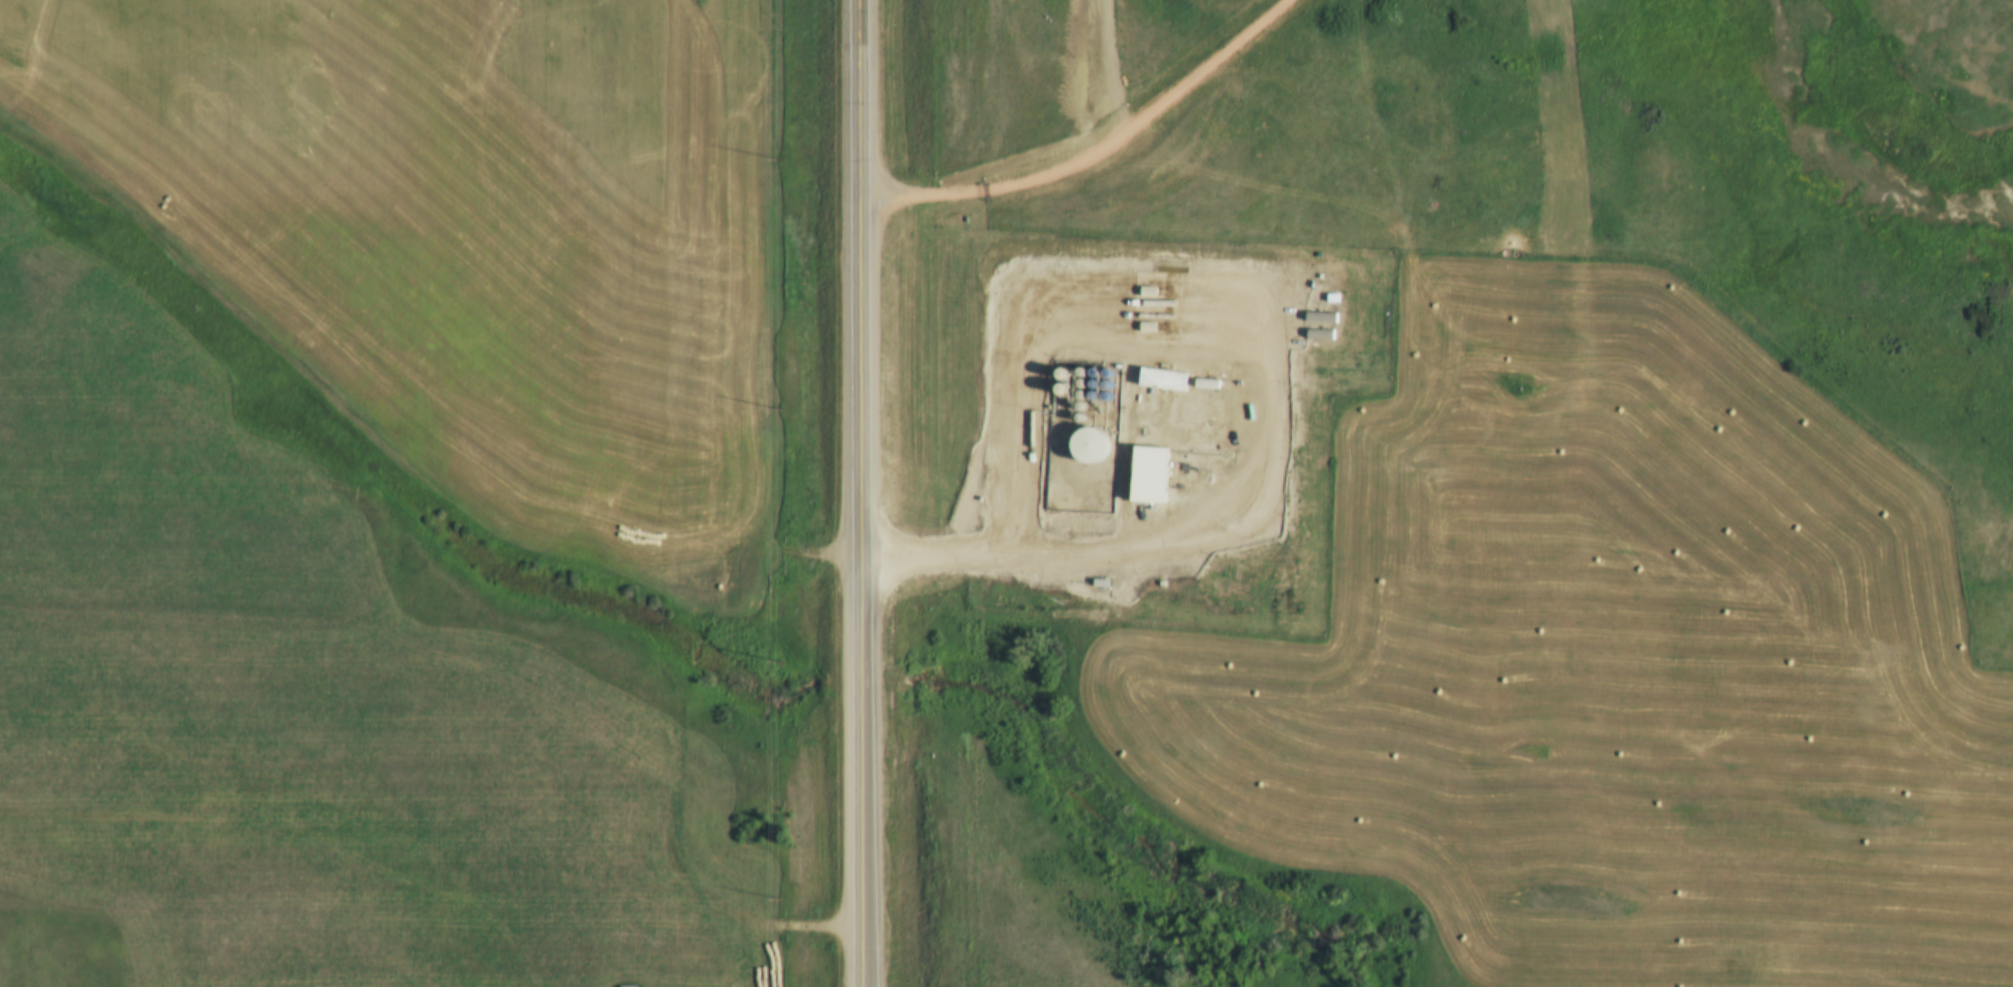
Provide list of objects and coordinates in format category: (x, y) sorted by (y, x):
road: (1097, 152)
road: (862, 493)
building: (627, 985)

